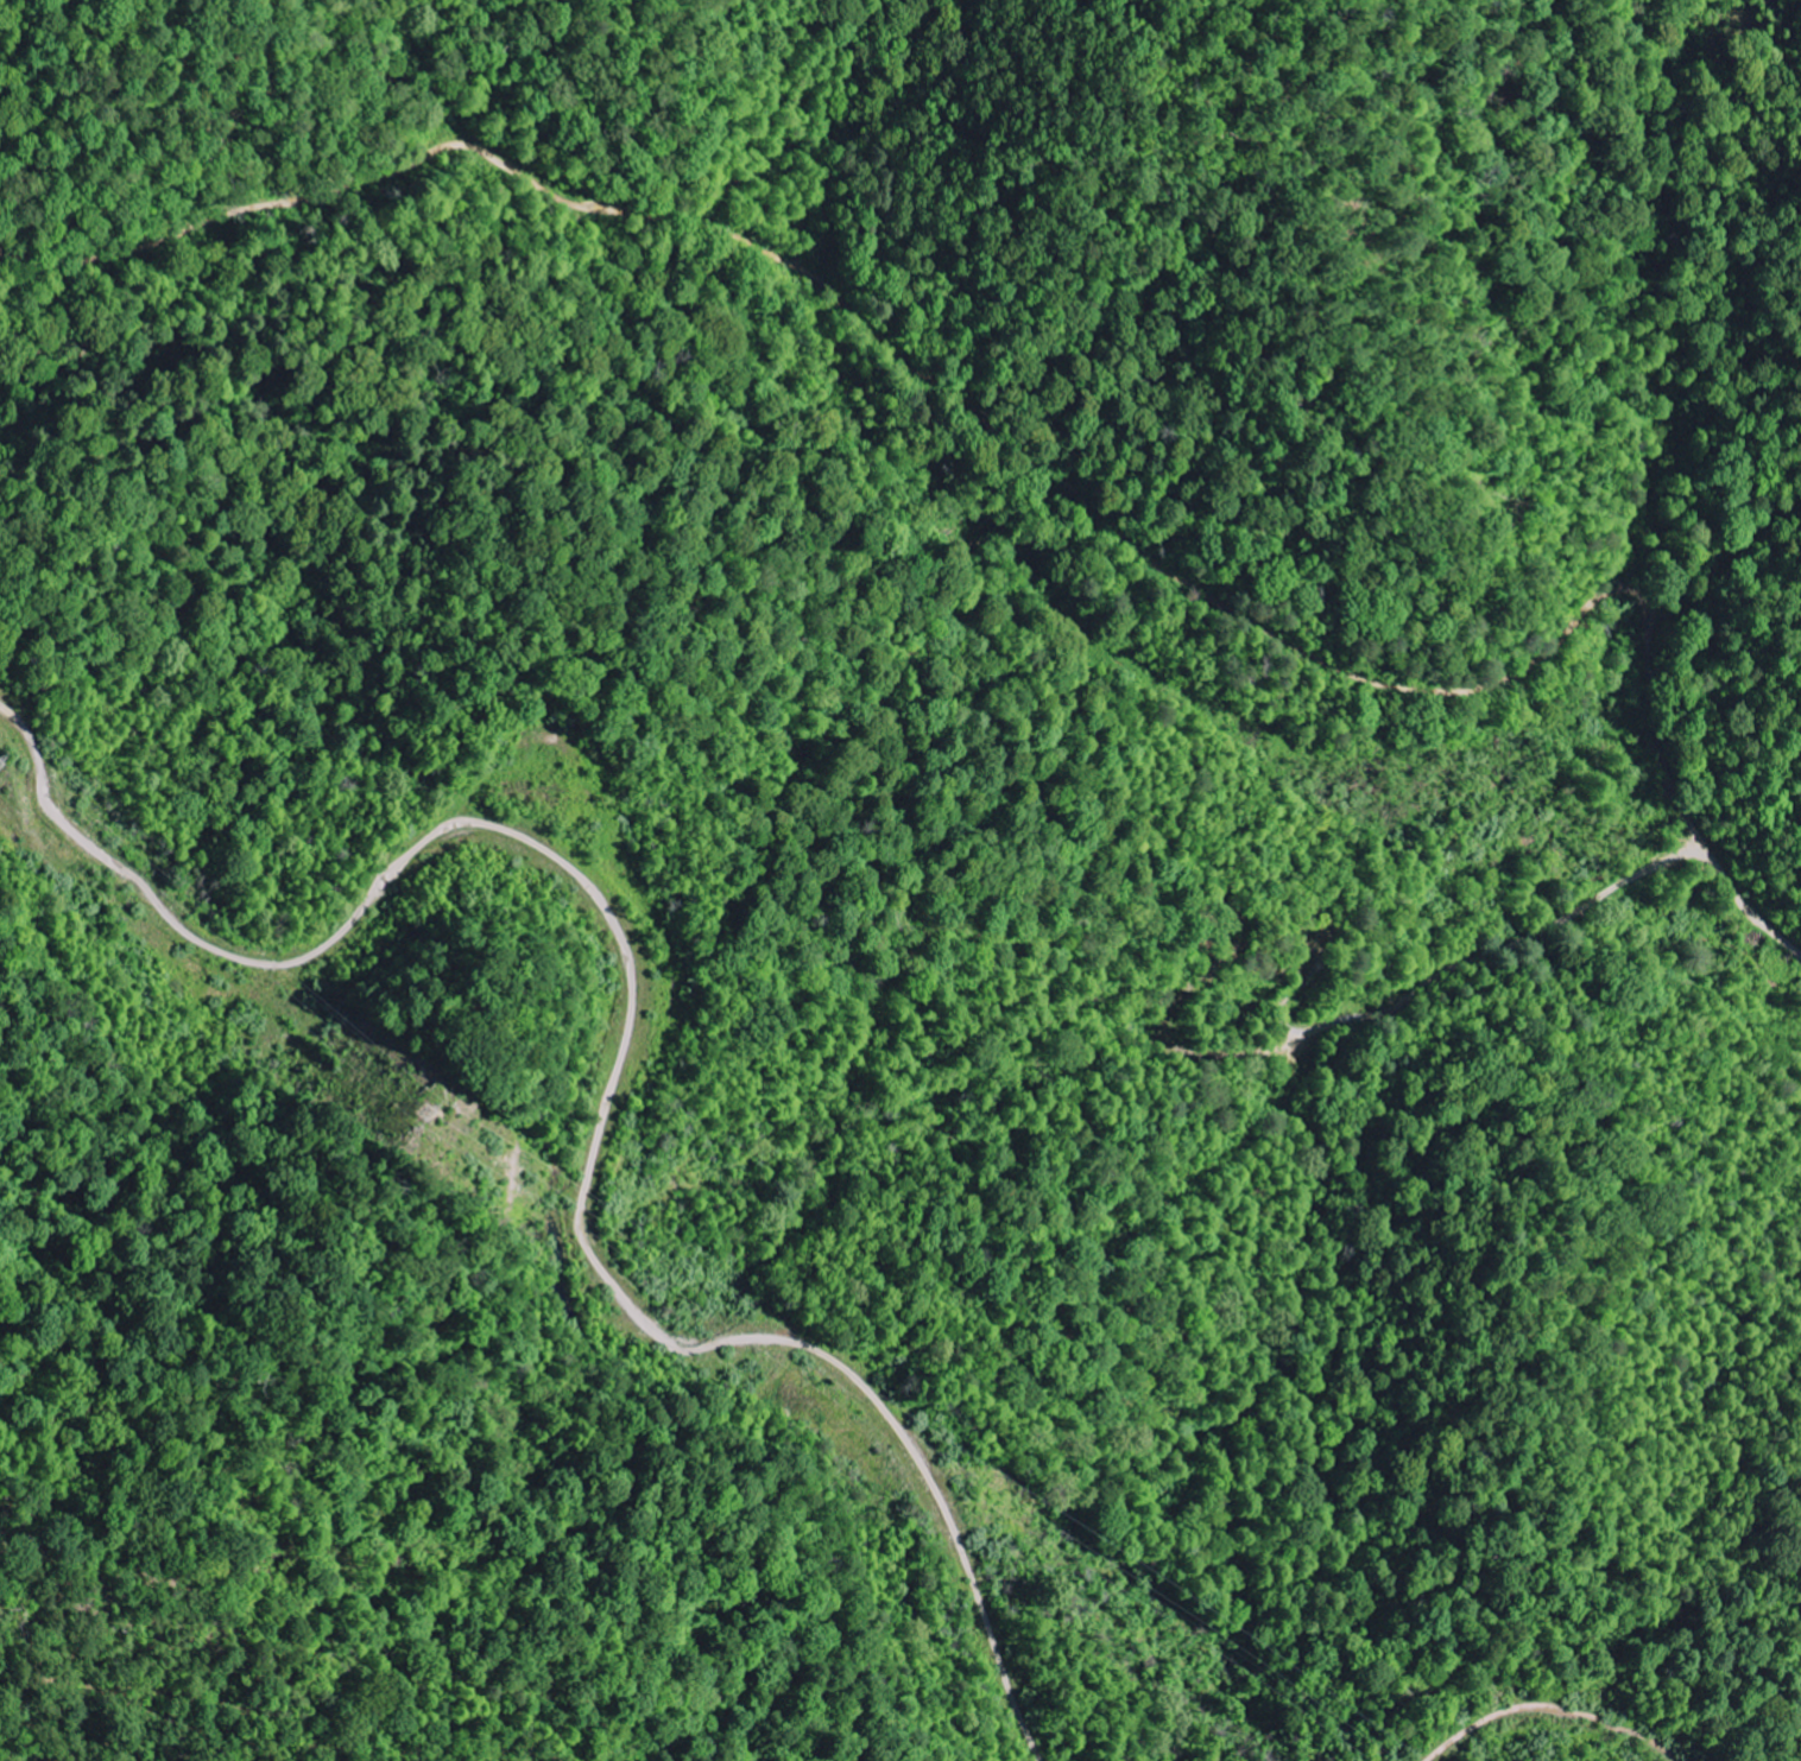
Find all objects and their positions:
road: (802, 1263)

